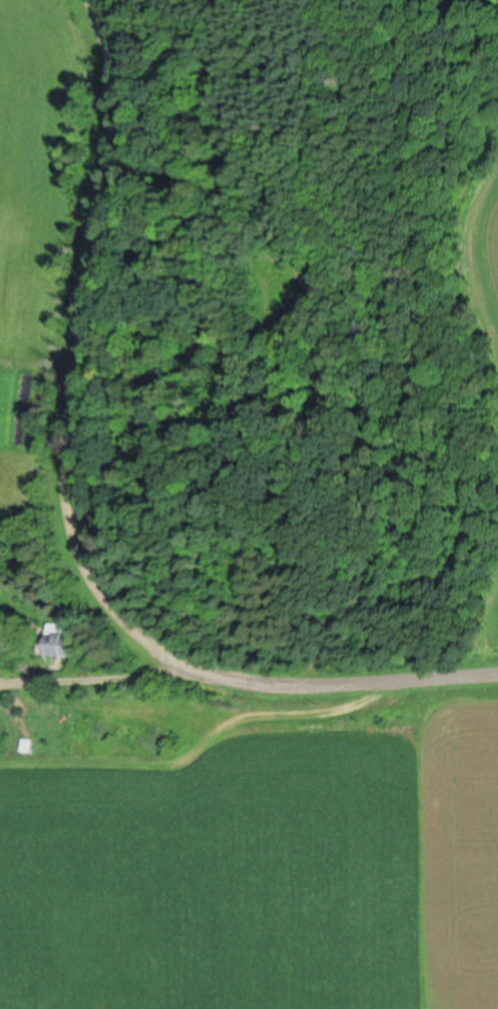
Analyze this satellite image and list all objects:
crop: (46, 225)
crop: (489, 242)
road: (59, 508)
building: (59, 639)
crop: (496, 661)
road: (88, 667)
crop: (259, 871)

